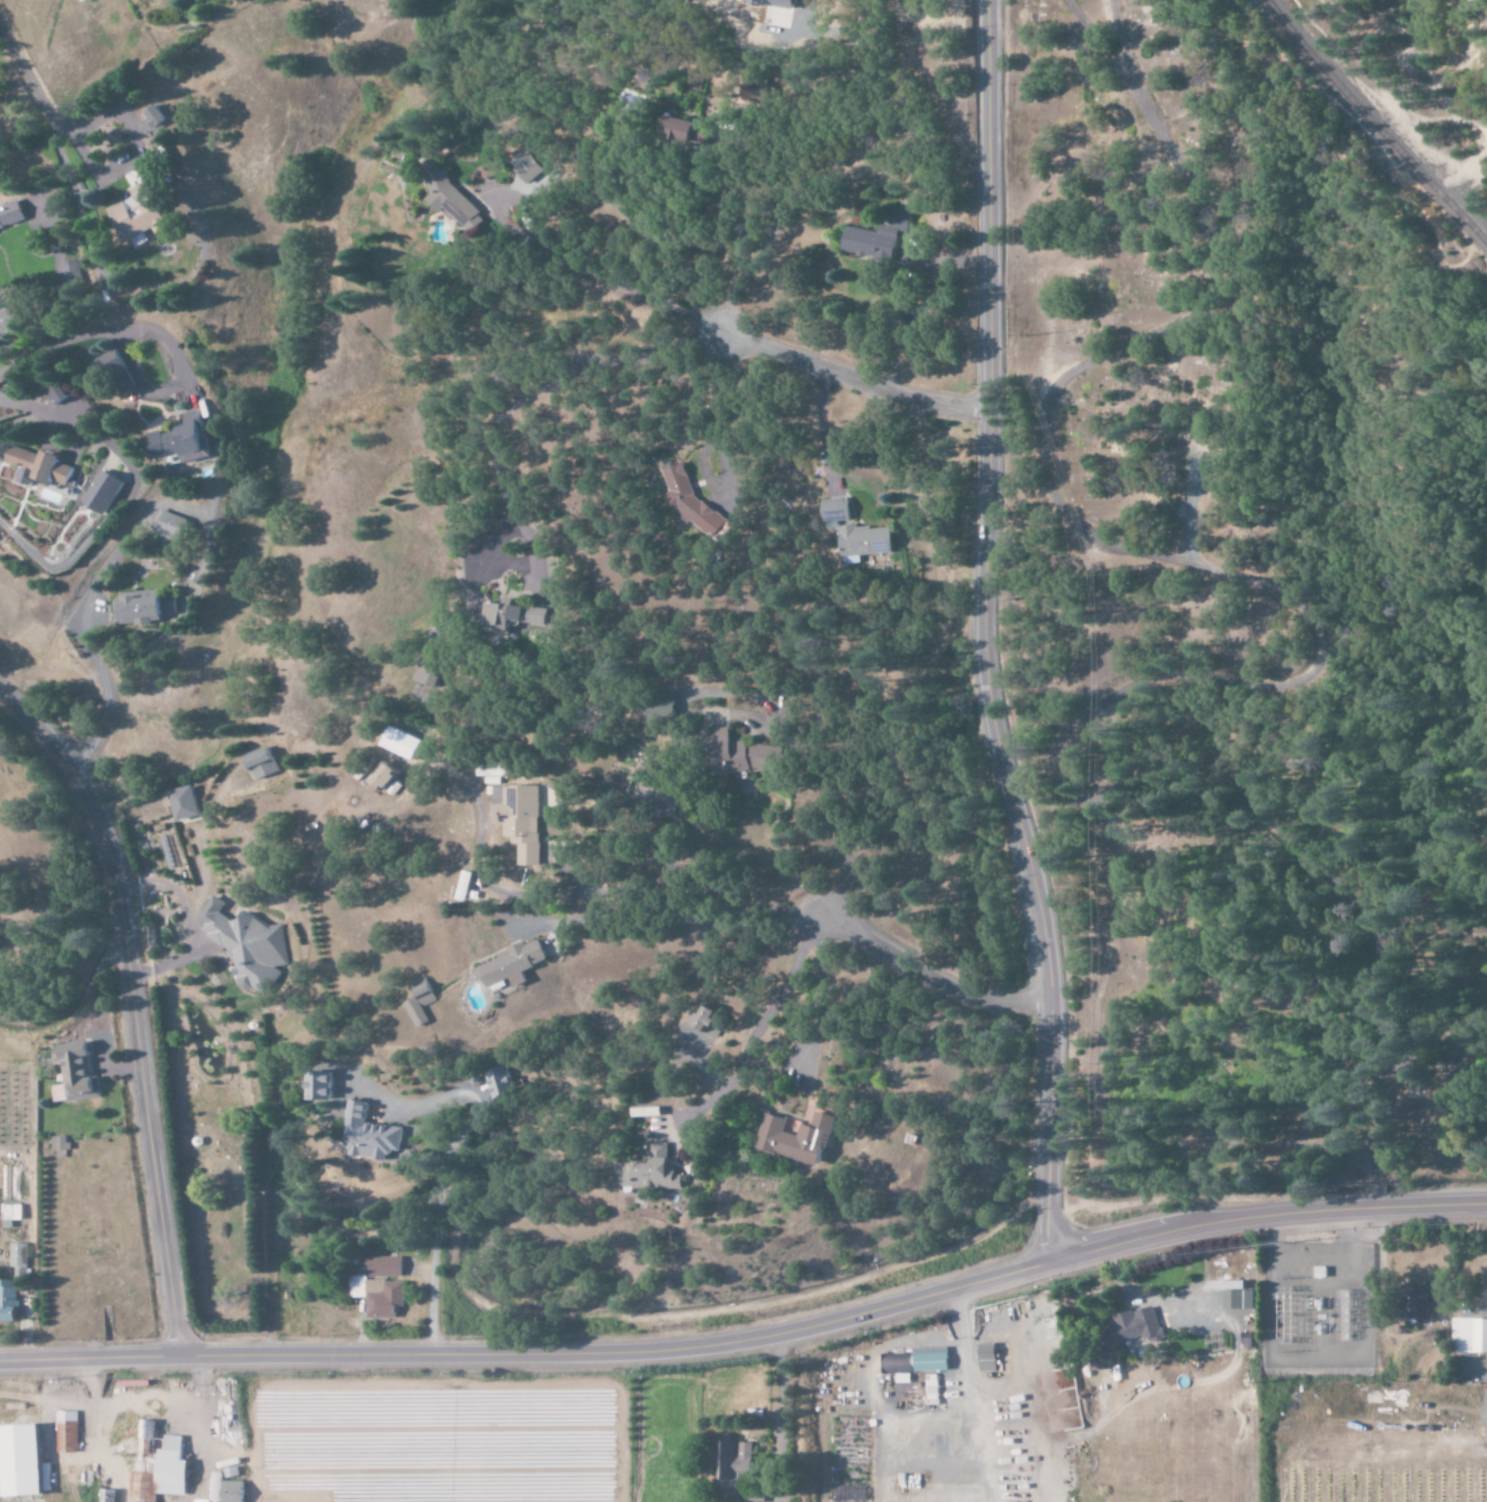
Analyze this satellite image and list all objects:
building: (85, 1)
building: (776, 3)
building: (157, 117)
railway: (1371, 124)
building: (690, 132)
road: (675, 148)
building: (529, 169)
building: (453, 197)
building: (12, 215)
building: (141, 215)
building: (877, 239)
road: (849, 368)
building: (59, 394)
building: (187, 441)
building: (44, 466)
building: (104, 492)
building: (694, 504)
building: (836, 512)
building: (170, 526)
building: (868, 541)
building: (145, 610)
road: (981, 634)
building: (433, 671)
building: (665, 709)
building: (405, 743)
building: (743, 754)
building: (263, 765)
building: (492, 770)
building: (387, 776)
building: (185, 803)
building: (522, 818)
building: (247, 944)
building: (514, 965)
road: (925, 976)
building: (422, 1005)
road: (129, 1010)
building: (711, 1021)
building: (76, 1075)
building: (500, 1082)
building: (324, 1085)
building: (651, 1112)
building: (372, 1134)
building: (801, 1138)
building: (61, 1144)
building: (651, 1172)
building: (13, 1214)
building: (20, 1260)
building: (386, 1266)
building: (379, 1295)
building: (1238, 1295)
building: (8, 1302)
building: (1411, 1303)
building: (1128, 1326)
building: (1468, 1336)
road: (750, 1337)
building: (1247, 1340)
building: (989, 1357)
building: (919, 1361)
road: (197, 1396)
crop: (714, 1427)
building: (68, 1432)
crop: (450, 1435)
crop: (1367, 1440)
building: (26, 1461)
building: (736, 1461)
building: (160, 1467)
building: (228, 1490)
building: (109, 1496)
building: (756, 1496)
building: (197, 1501)

